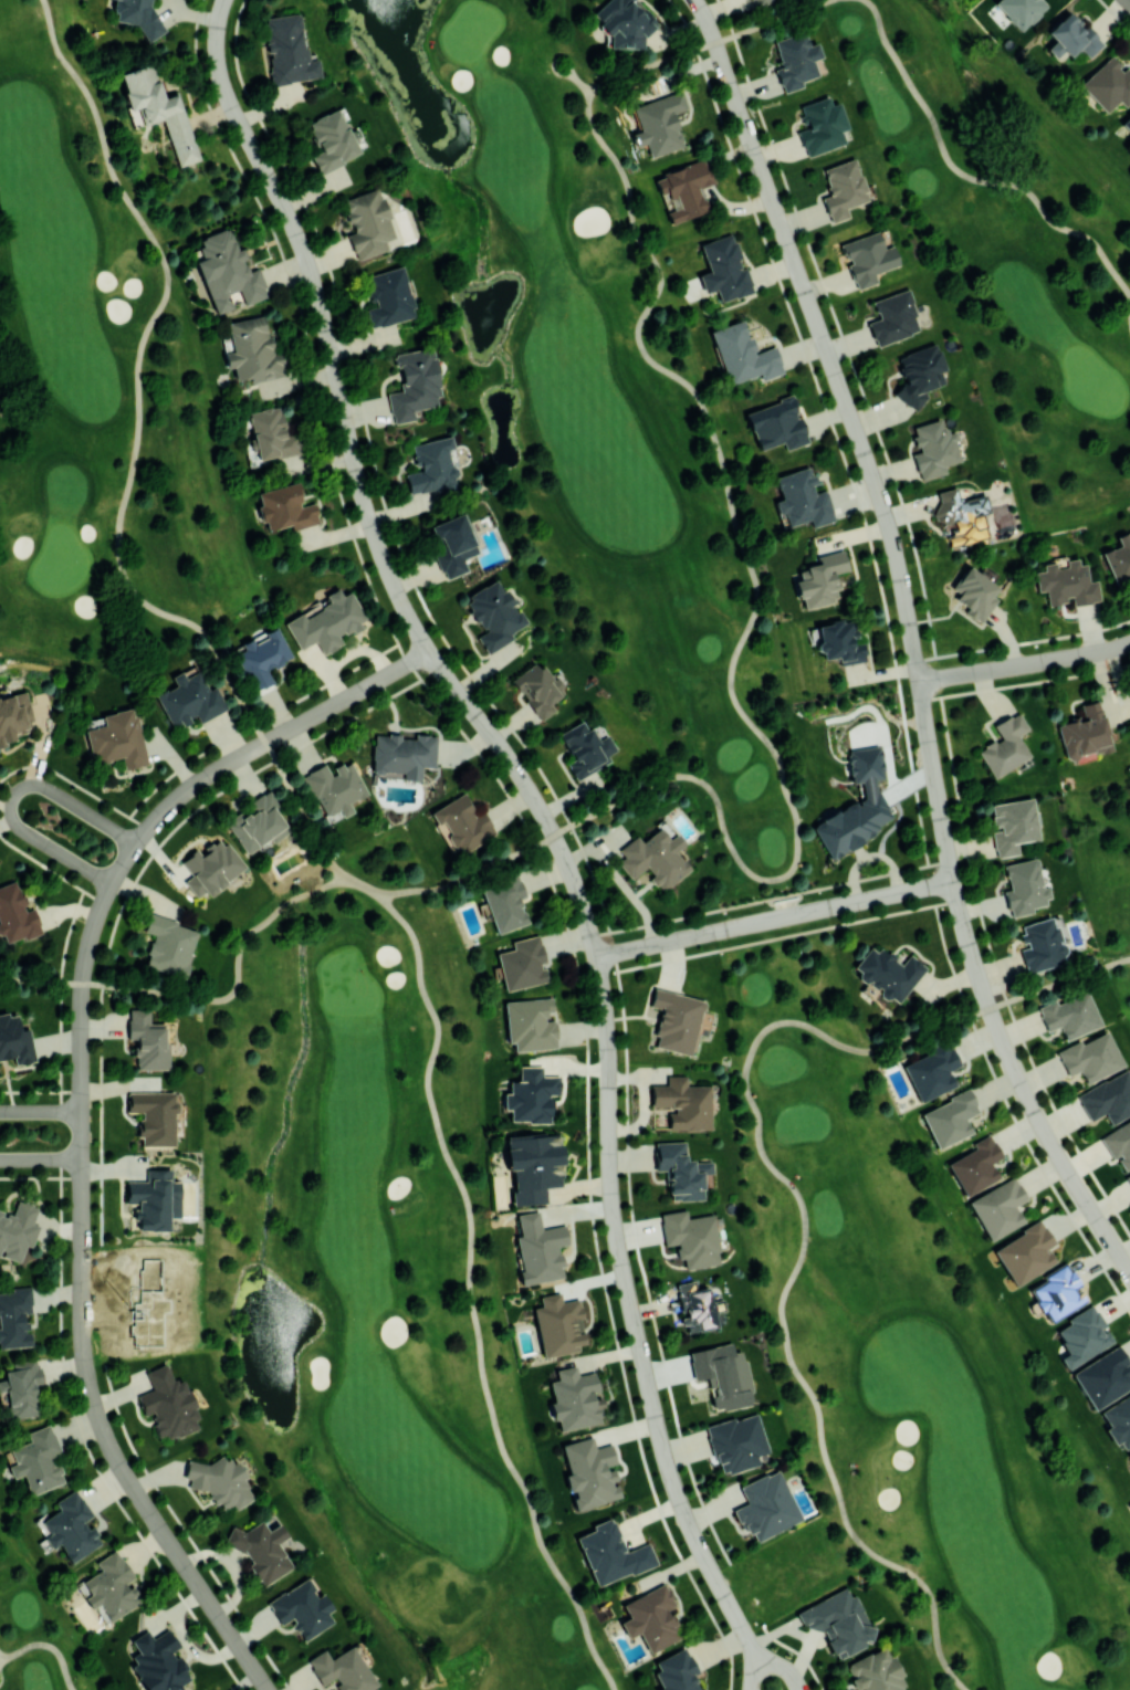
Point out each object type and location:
road: (1129, 0)
building: (756, 2)
building: (1021, 10)
building: (135, 12)
road: (771, 19)
building: (624, 22)
building: (1070, 36)
building: (287, 50)
road: (552, 60)
building: (795, 60)
road: (651, 63)
road: (580, 83)
building: (1108, 84)
building: (157, 109)
building: (659, 122)
building: (1127, 123)
building: (820, 125)
building: (331, 140)
road: (973, 178)
building: (843, 188)
building: (684, 190)
building: (367, 222)
building: (867, 259)
building: (724, 269)
building: (226, 271)
building: (388, 296)
building: (892, 317)
building: (252, 350)
building: (742, 354)
building: (917, 375)
road: (139, 384)
building: (414, 384)
building: (776, 424)
road: (856, 431)
building: (271, 434)
building: (933, 449)
building: (431, 468)
road: (362, 494)
building: (802, 498)
building: (285, 507)
building: (961, 516)
building: (451, 544)
building: (1119, 560)
building: (819, 579)
building: (1066, 584)
building: (973, 592)
building: (493, 613)
road: (752, 619)
building: (326, 622)
building: (839, 641)
building: (261, 655)
road: (1024, 664)
building: (536, 689)
building: (189, 700)
building: (12, 716)
building: (1082, 732)
building: (117, 739)
building: (1004, 746)
building: (585, 748)
building: (402, 754)
building: (334, 787)
road: (14, 797)
building: (855, 806)
road: (301, 810)
building: (255, 822)
building: (463, 822)
building: (1012, 825)
park: (754, 839)
building: (210, 867)
road: (471, 874)
road: (363, 884)
building: (1023, 886)
building: (504, 904)
building: (15, 914)
road: (774, 920)
building: (1040, 944)
building: (168, 945)
building: (522, 964)
building: (887, 973)
road: (41, 980)
road: (1058, 980)
road: (236, 982)
building: (1069, 1015)
building: (676, 1020)
building: (530, 1024)
building: (14, 1039)
building: (147, 1040)
building: (1090, 1057)
building: (931, 1071)
road: (1022, 1084)
building: (531, 1095)
building: (1108, 1098)
building: (682, 1103)
road: (81, 1110)
road: (40, 1111)
building: (154, 1116)
building: (950, 1117)
building: (1118, 1143)
road: (40, 1159)
building: (533, 1165)
building: (975, 1165)
building: (680, 1171)
building: (1127, 1178)
building: (154, 1199)
building: (998, 1207)
building: (17, 1229)
building: (691, 1237)
building: (538, 1249)
building: (1025, 1252)
road: (798, 1260)
building: (1058, 1292)
road: (468, 1297)
park: (128, 1306)
building: (694, 1306)
building: (14, 1316)
park: (921, 1321)
building: (558, 1324)
road: (637, 1335)
building: (1082, 1335)
building: (722, 1375)
building: (1103, 1377)
building: (20, 1388)
building: (575, 1398)
building: (168, 1403)
building: (1118, 1420)
building: (736, 1442)
road: (85, 1445)
building: (1129, 1453)
building: (36, 1460)
building: (589, 1472)
building: (219, 1481)
building: (766, 1505)
building: (71, 1526)
building: (260, 1549)
building: (611, 1553)
building: (109, 1586)
building: (301, 1608)
building: (651, 1617)
building: (837, 1621)
park: (39, 1630)
road: (48, 1645)
building: (157, 1661)
building: (341, 1669)
building: (676, 1671)
building: (875, 1671)
road: (1, 1677)

